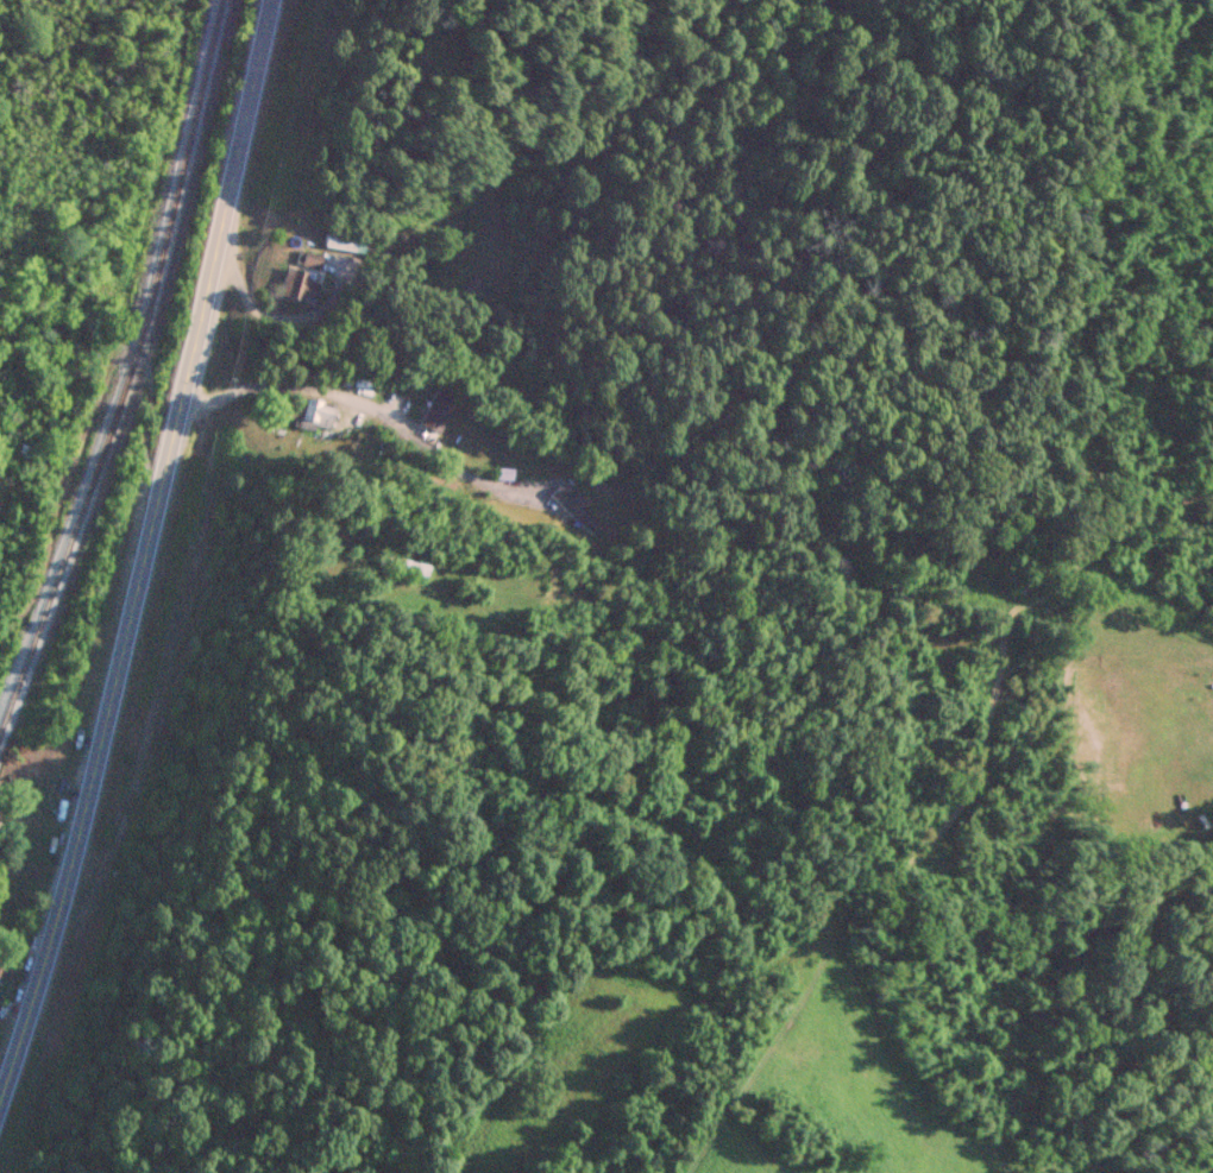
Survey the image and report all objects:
railway: (125, 365)
road: (142, 549)
building: (2, 963)

